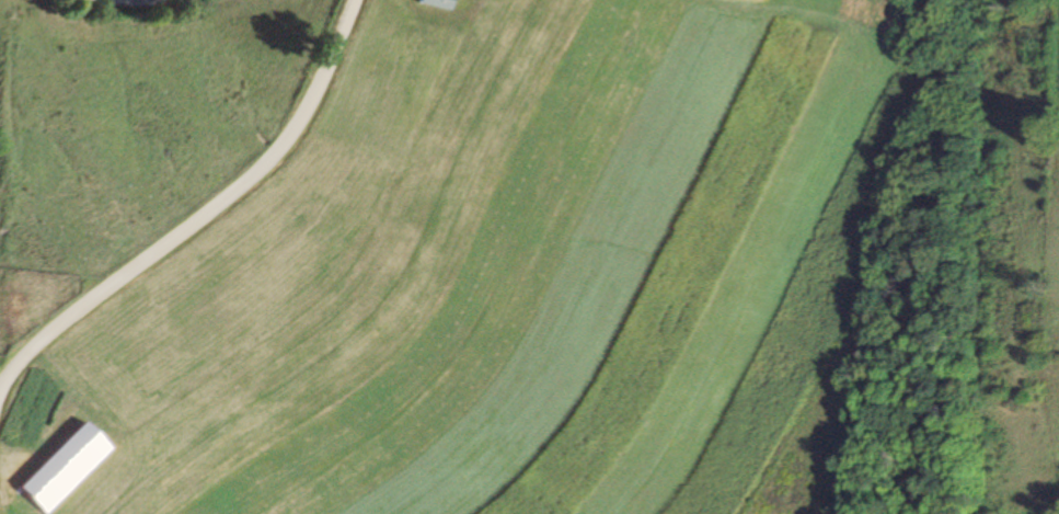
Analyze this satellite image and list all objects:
road: (127, 14)
road: (202, 219)
building: (59, 470)

